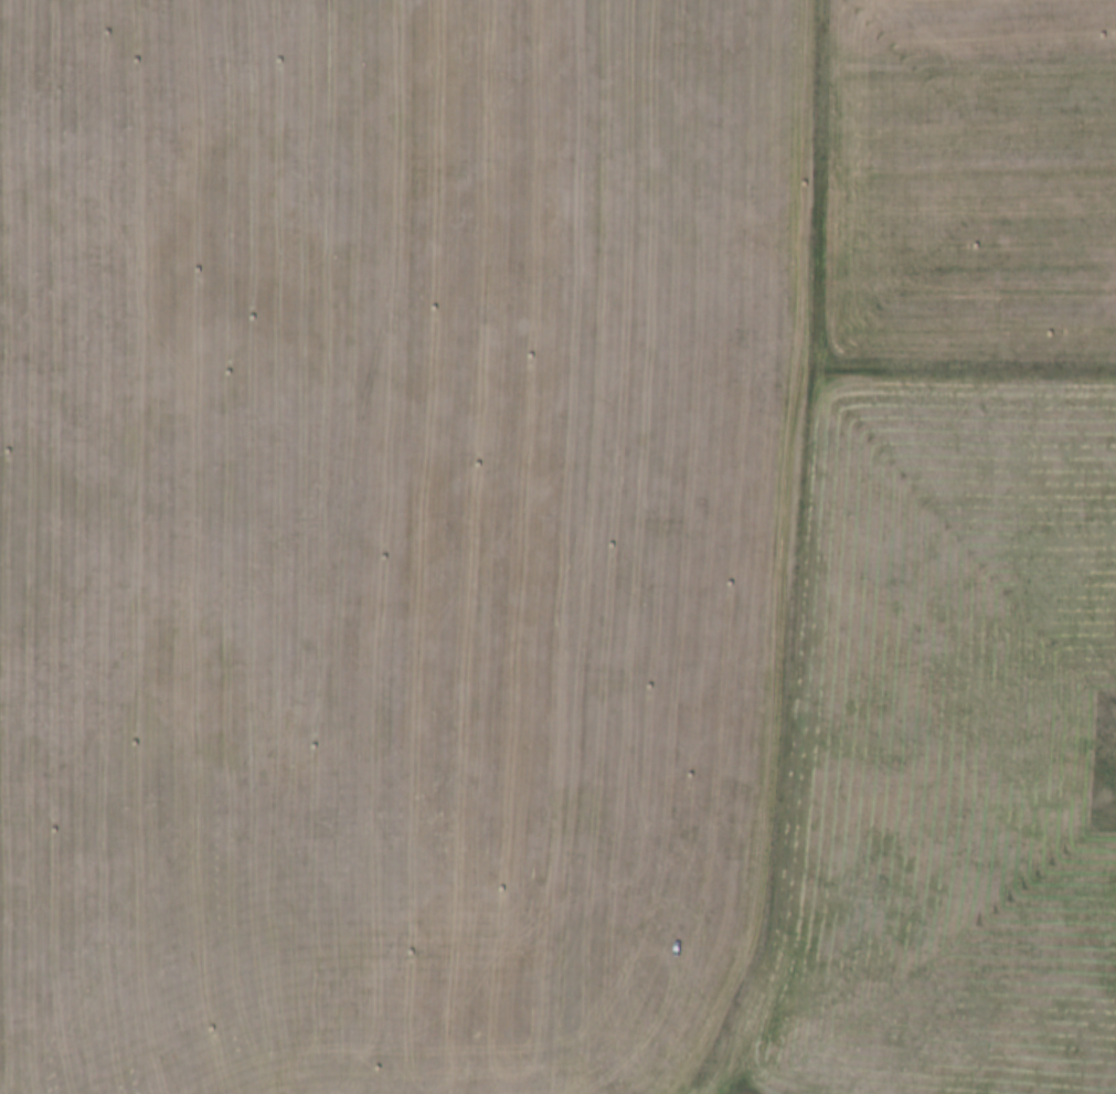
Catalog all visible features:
road: (786, 549)

